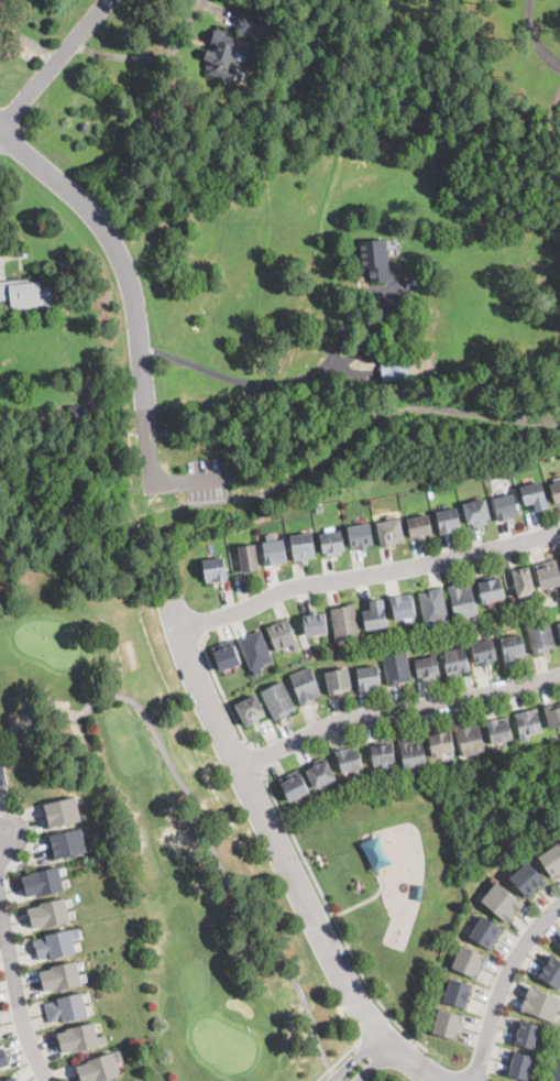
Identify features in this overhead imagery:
building: (12, 0)
road: (535, 35)
building: (233, 46)
road: (150, 55)
road: (55, 65)
building: (135, 172)
building: (147, 193)
building: (380, 261)
road: (129, 282)
building: (26, 296)
building: (394, 369)
road: (284, 381)
building: (84, 414)
road: (370, 418)
road: (187, 480)
building: (556, 492)
building: (535, 496)
building: (506, 506)
building: (476, 513)
building: (449, 521)
building: (420, 526)
building: (391, 533)
building: (361, 536)
building: (332, 543)
building: (303, 546)
building: (274, 553)
building: (249, 558)
building: (213, 570)
road: (366, 574)
building: (548, 575)
building: (524, 581)
building: (491, 591)
building: (134, 599)
building: (463, 601)
building: (433, 607)
building: (403, 608)
building: (375, 615)
building: (344, 622)
building: (559, 623)
building: (315, 624)
building: (559, 629)
building: (283, 635)
building: (540, 636)
building: (514, 647)
building: (255, 652)
building: (484, 652)
building: (226, 656)
building: (455, 660)
building: (427, 667)
building: (397, 668)
building: (369, 678)
building: (338, 681)
building: (305, 686)
road: (220, 687)
building: (277, 700)
road: (396, 709)
building: (251, 710)
building: (552, 717)
building: (528, 723)
building: (499, 730)
building: (470, 738)
building: (440, 743)
building: (382, 754)
building: (413, 754)
road: (256, 757)
building: (350, 758)
building: (2, 774)
building: (320, 774)
building: (294, 787)
building: (62, 811)
road: (198, 826)
road: (273, 831)
road: (1, 838)
park: (226, 839)
building: (67, 843)
building: (552, 861)
building: (528, 880)
building: (43, 883)
road: (363, 900)
building: (503, 903)
building: (48, 914)
road: (332, 919)
building: (486, 932)
building: (559, 943)
building: (54, 946)
building: (469, 961)
building: (550, 971)
building: (61, 978)
road: (503, 986)
road: (15, 992)
building: (458, 993)
building: (541, 1005)
building: (66, 1008)
building: (448, 1024)
road: (371, 1026)
building: (527, 1035)
building: (78, 1038)
building: (3, 1058)
road: (355, 1058)
road: (336, 1060)
road: (376, 1066)
road: (420, 1067)
building: (521, 1067)
building: (99, 1069)
building: (0, 1071)
building: (556, 1073)
road: (333, 1075)
building: (13, 1079)
building: (4, 1080)

